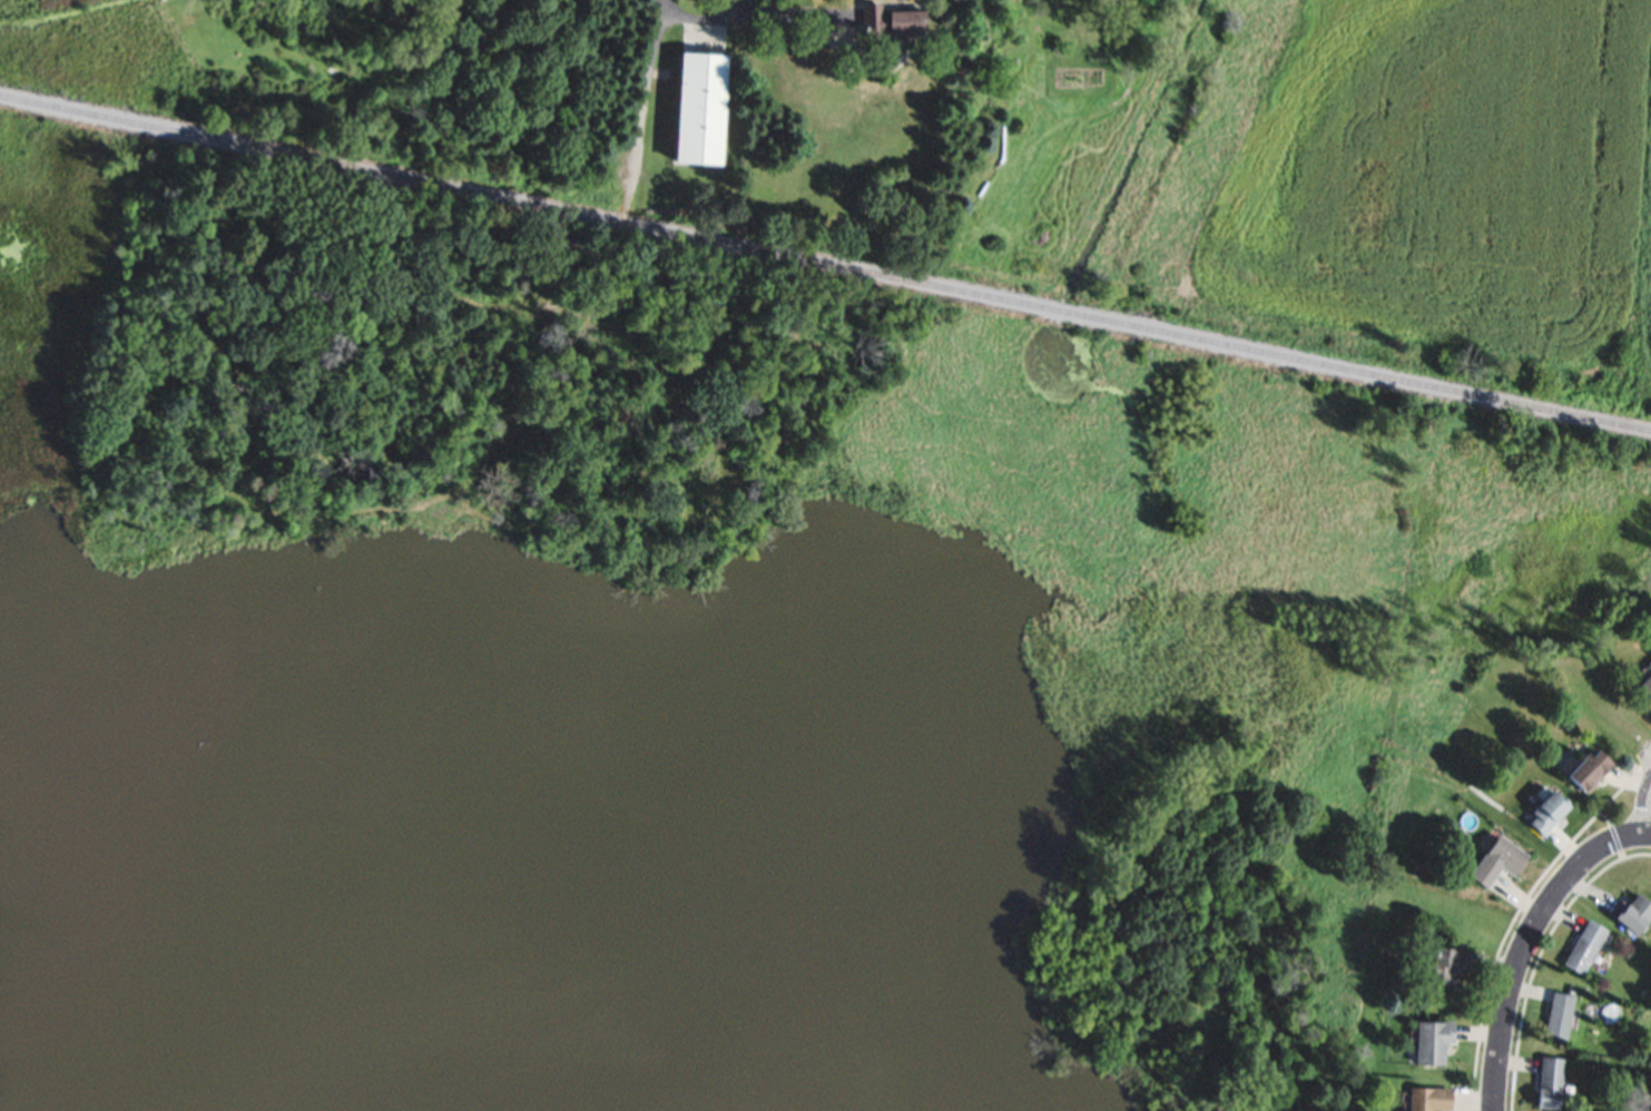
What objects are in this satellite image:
road: (745, 20)
building: (890, 20)
park: (352, 73)
building: (699, 106)
road: (633, 119)
crop: (1387, 184)
railway: (825, 263)
park: (1315, 616)
building: (1648, 686)
park: (19, 688)
building: (1590, 769)
building: (1550, 812)
river: (19, 854)
building: (1498, 859)
building: (1635, 914)
road: (1527, 942)
building: (1586, 946)
building: (1449, 966)
river: (174, 996)
building: (1560, 1016)
building: (1433, 1041)
building: (1645, 1079)
building: (1550, 1081)
building: (1429, 1099)

